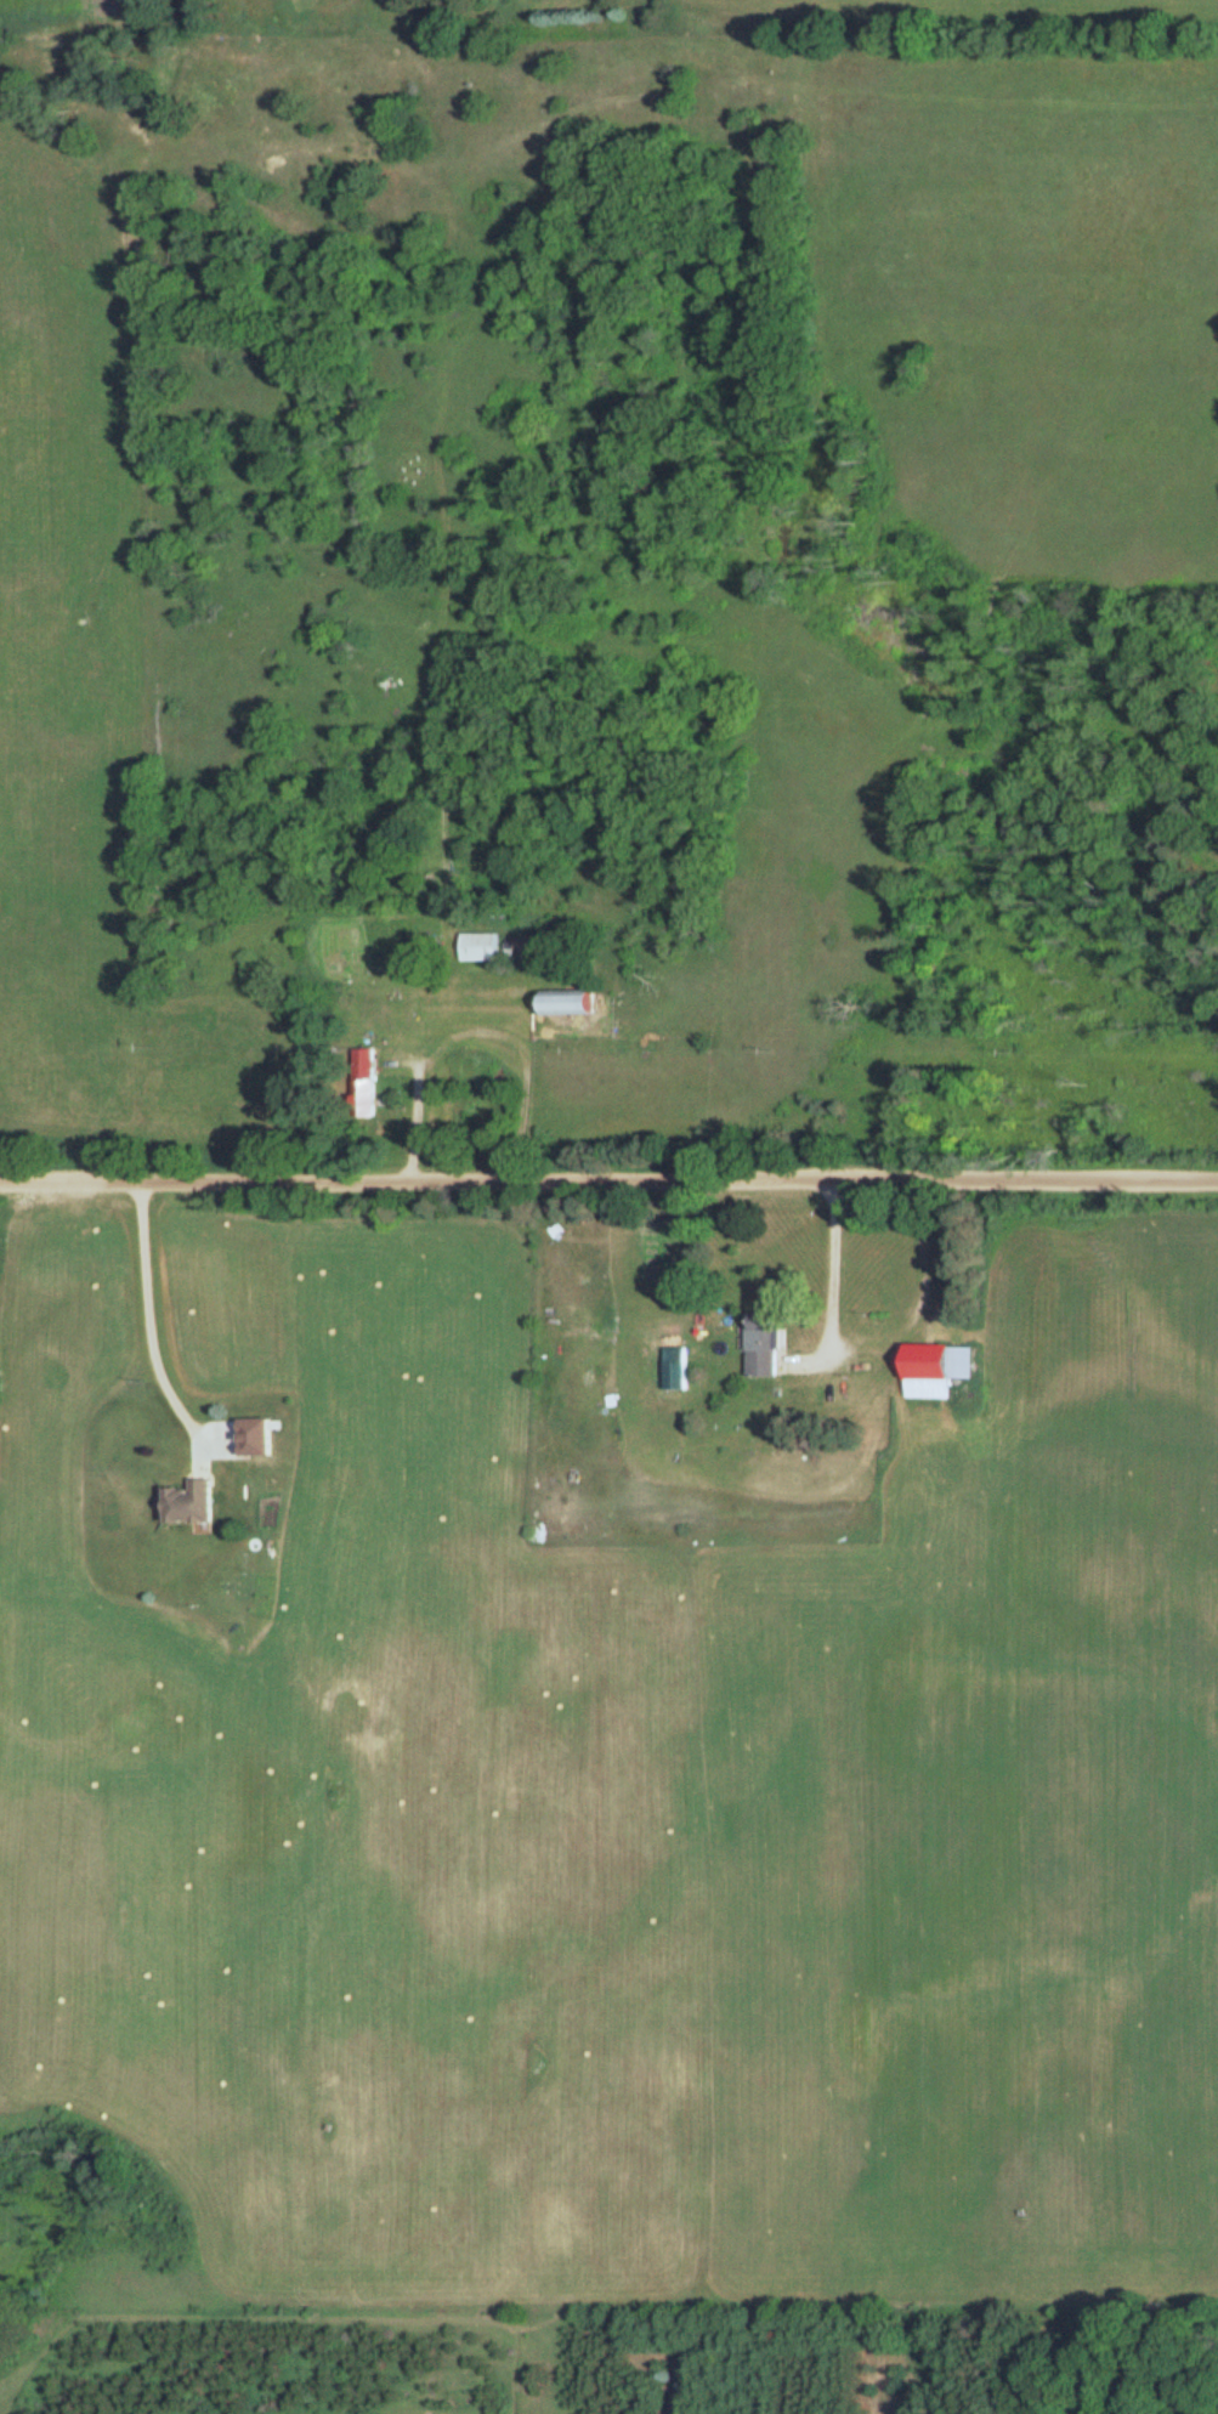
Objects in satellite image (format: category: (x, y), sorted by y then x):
building: (478, 947)
building: (571, 1003)
road: (608, 1186)
building: (761, 1347)
building: (940, 1362)
building: (675, 1368)
building: (239, 1461)
building: (189, 1503)

